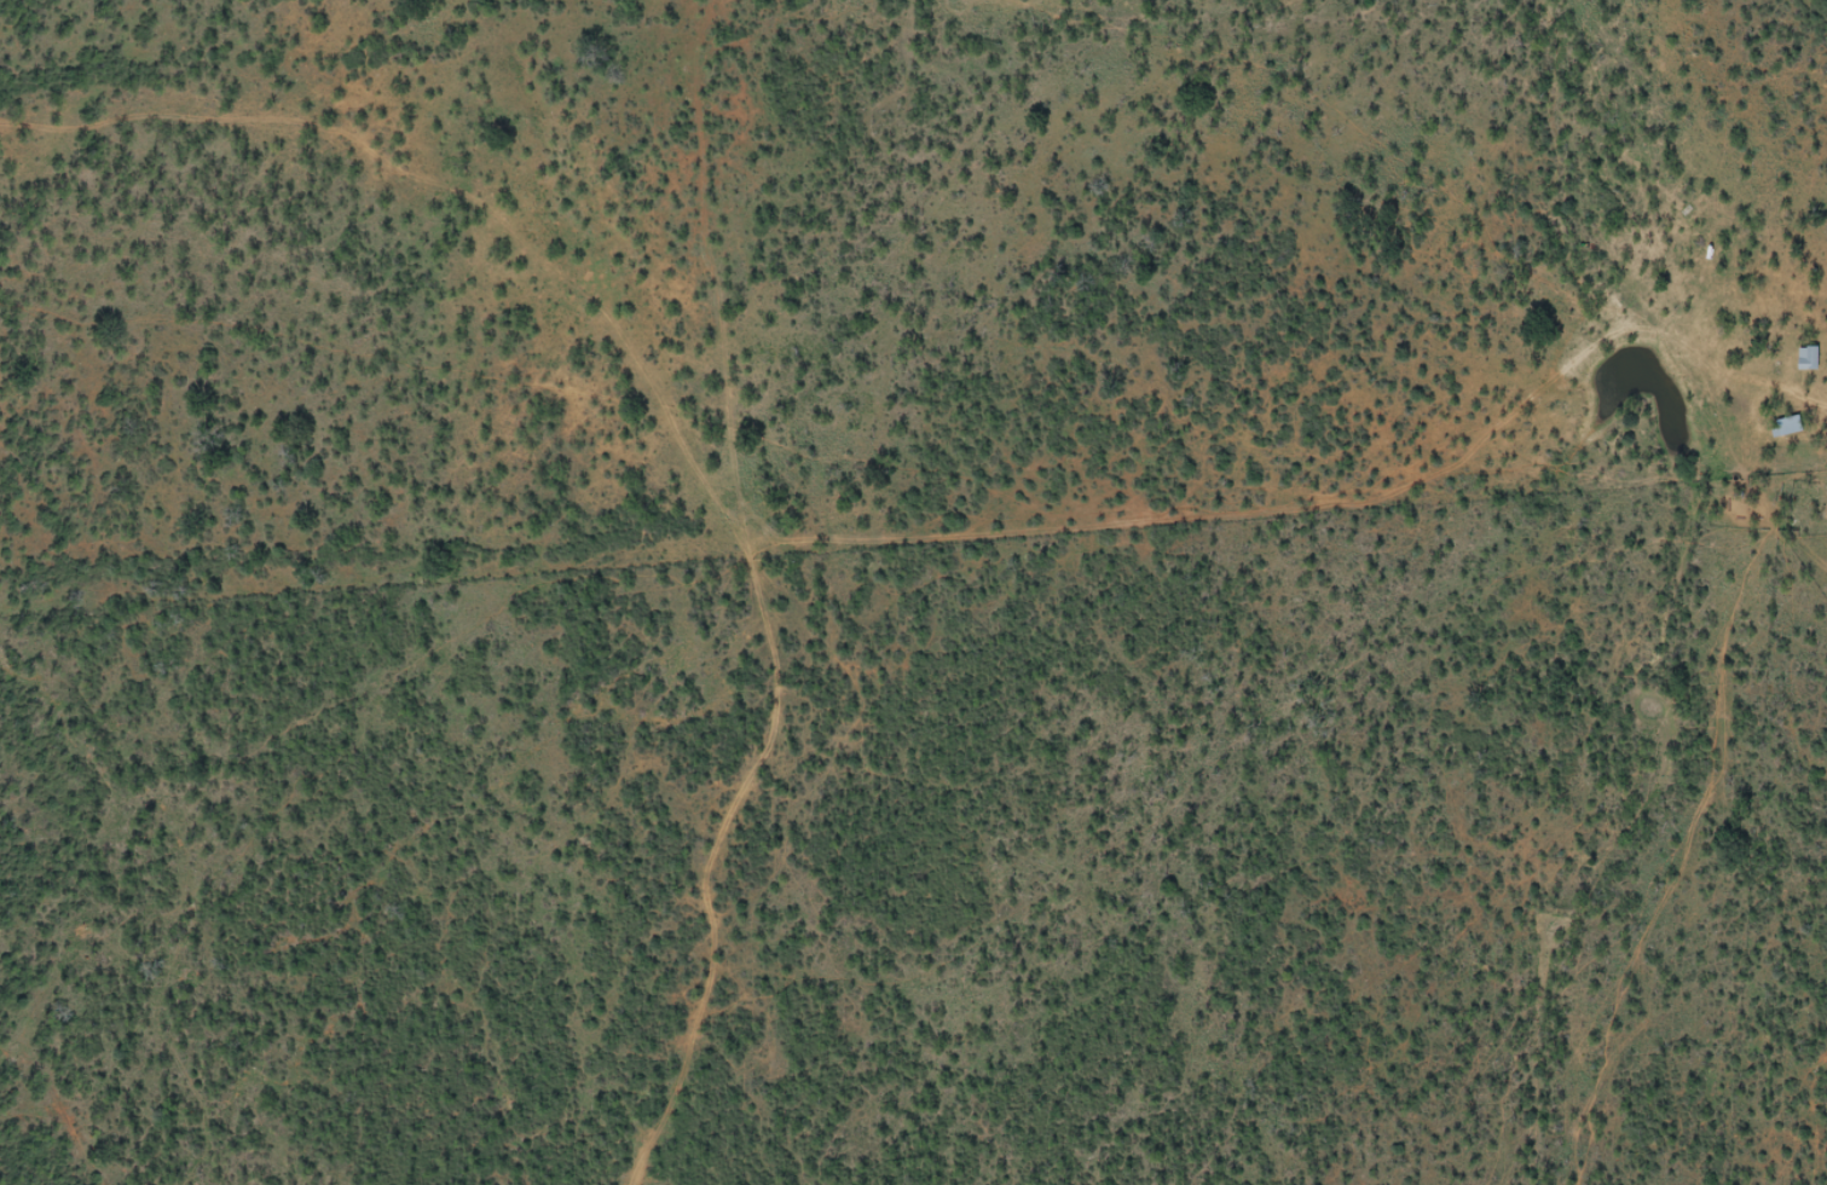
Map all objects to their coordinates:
building: (1812, 359)

